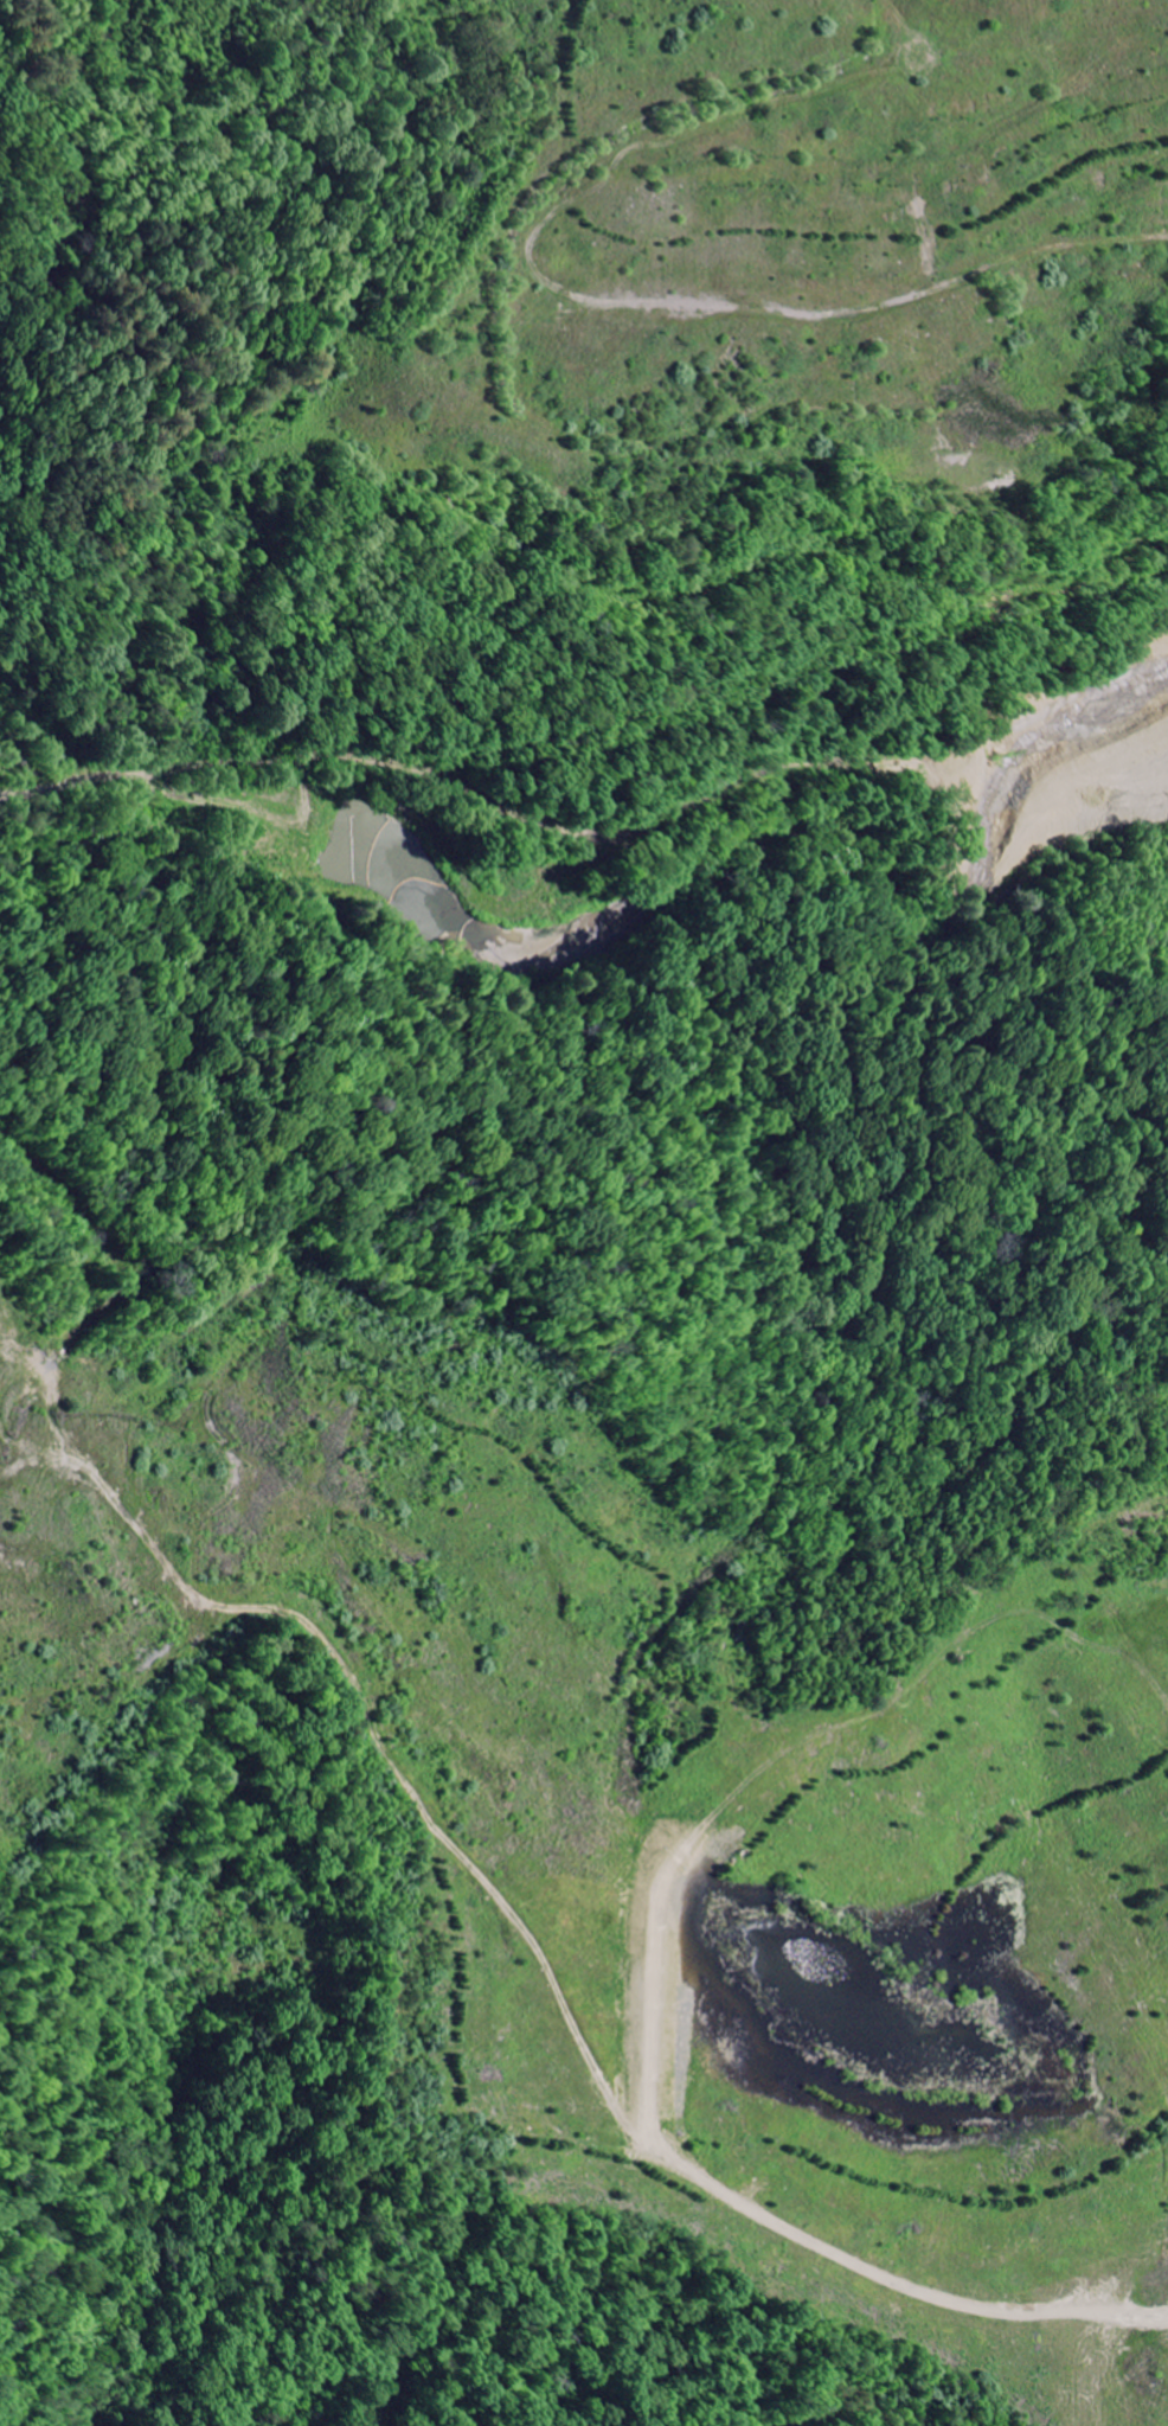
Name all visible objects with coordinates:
quarry: (592, 776)

